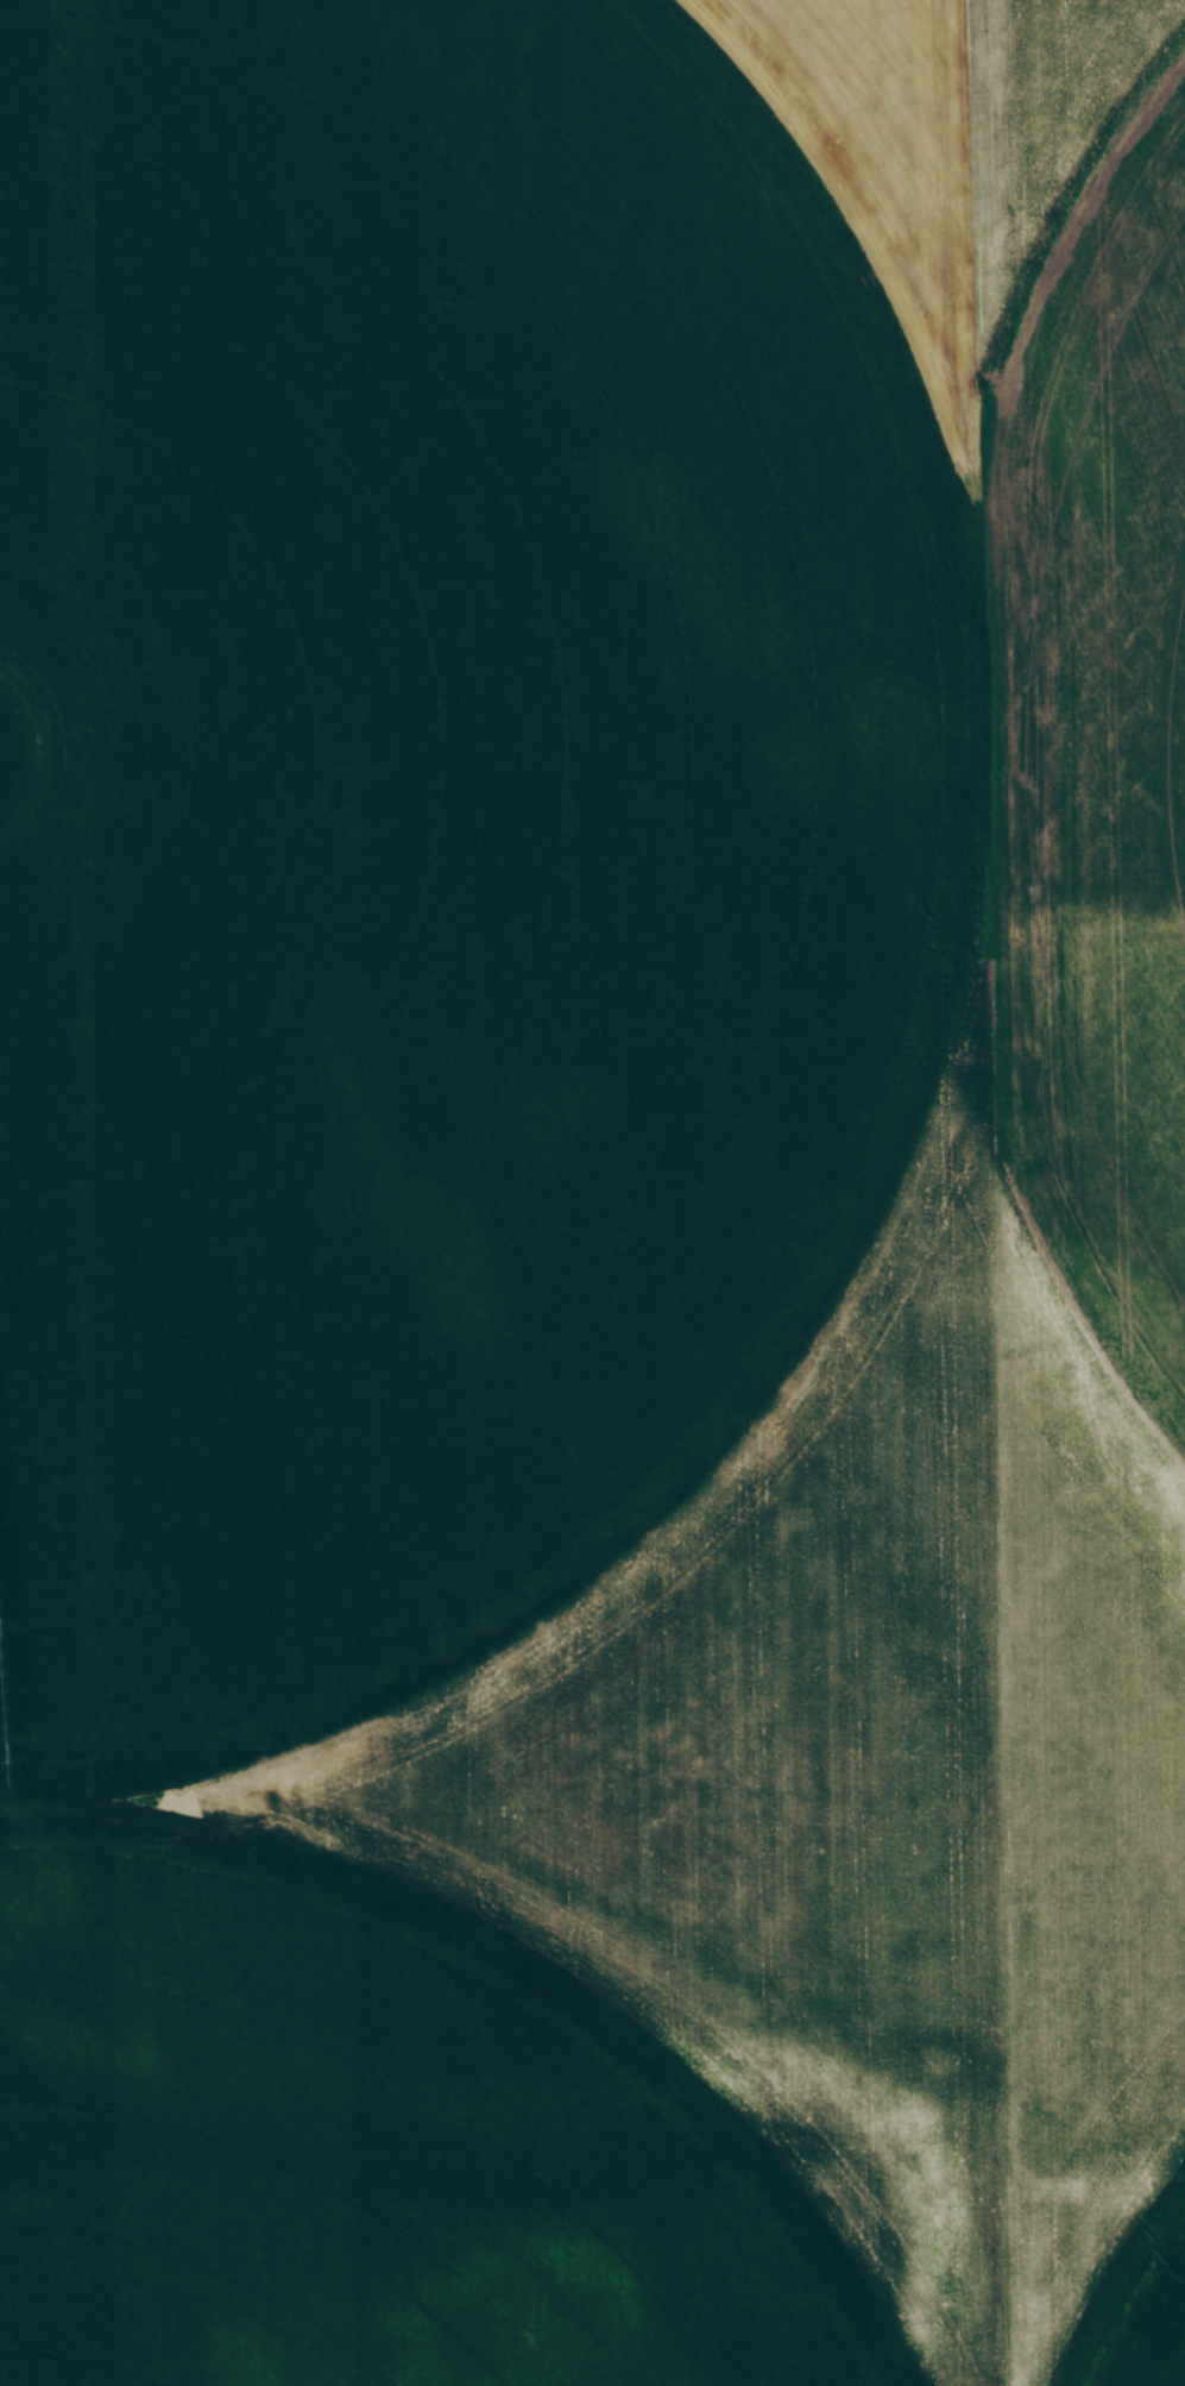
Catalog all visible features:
crop: (581, 1225)

